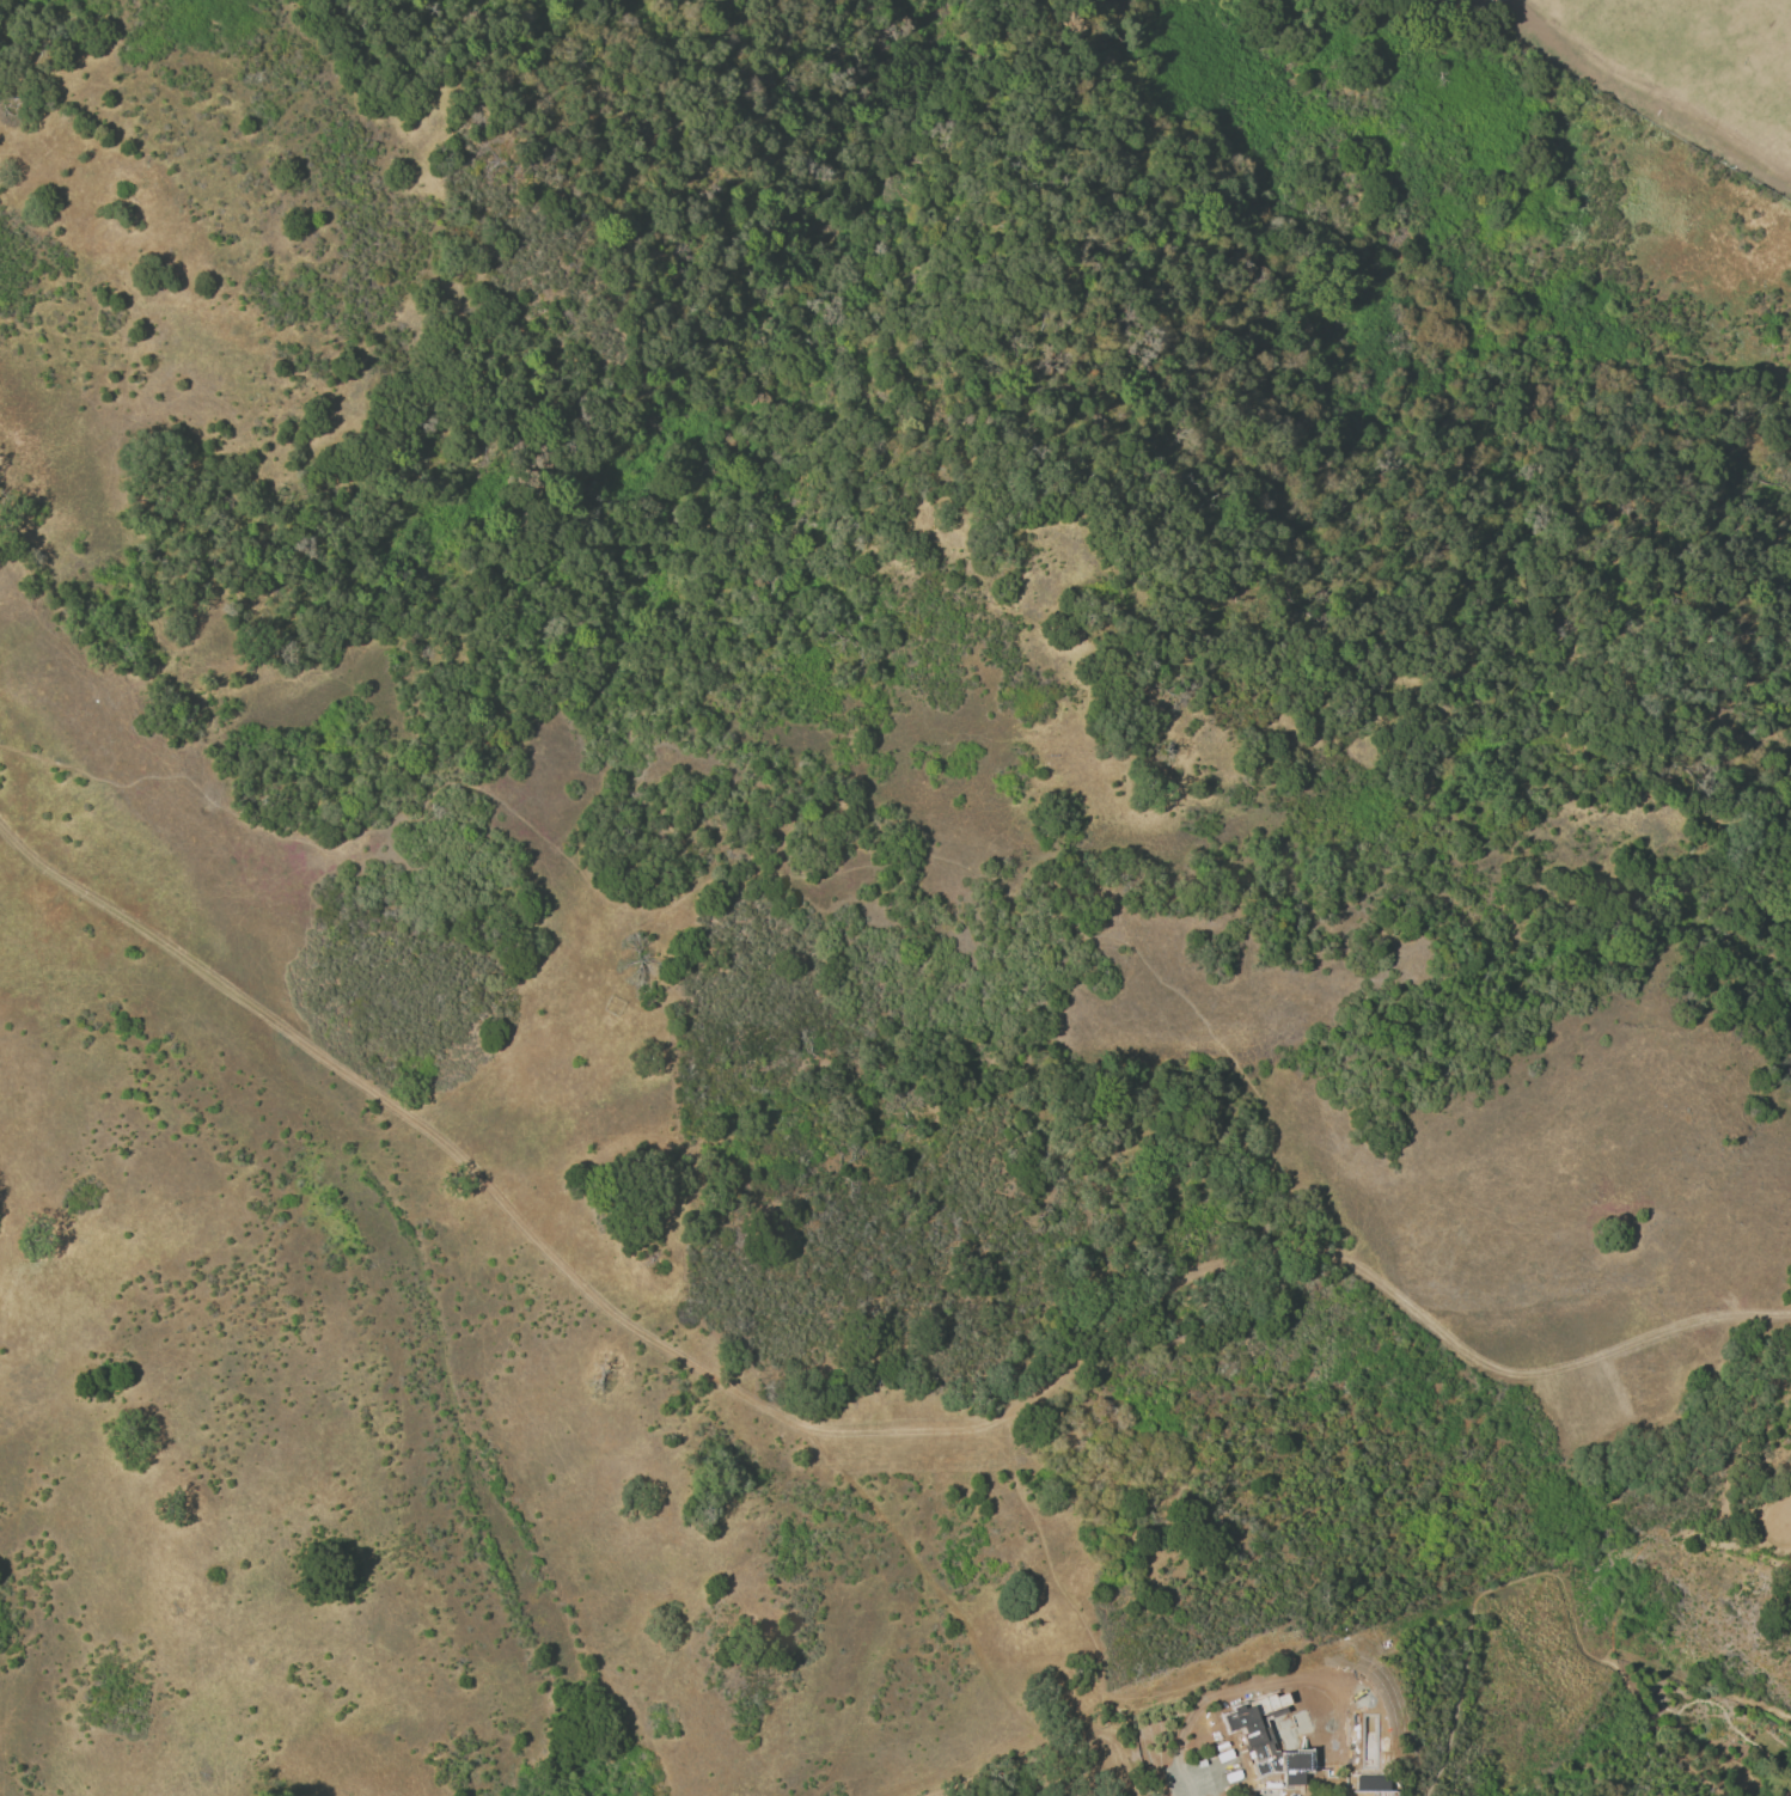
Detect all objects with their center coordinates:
road: (711, 884)
road: (484, 1184)
road: (1222, 1260)
road: (936, 1586)
road: (1563, 1587)
building: (1265, 1742)
road: (1044, 1753)

